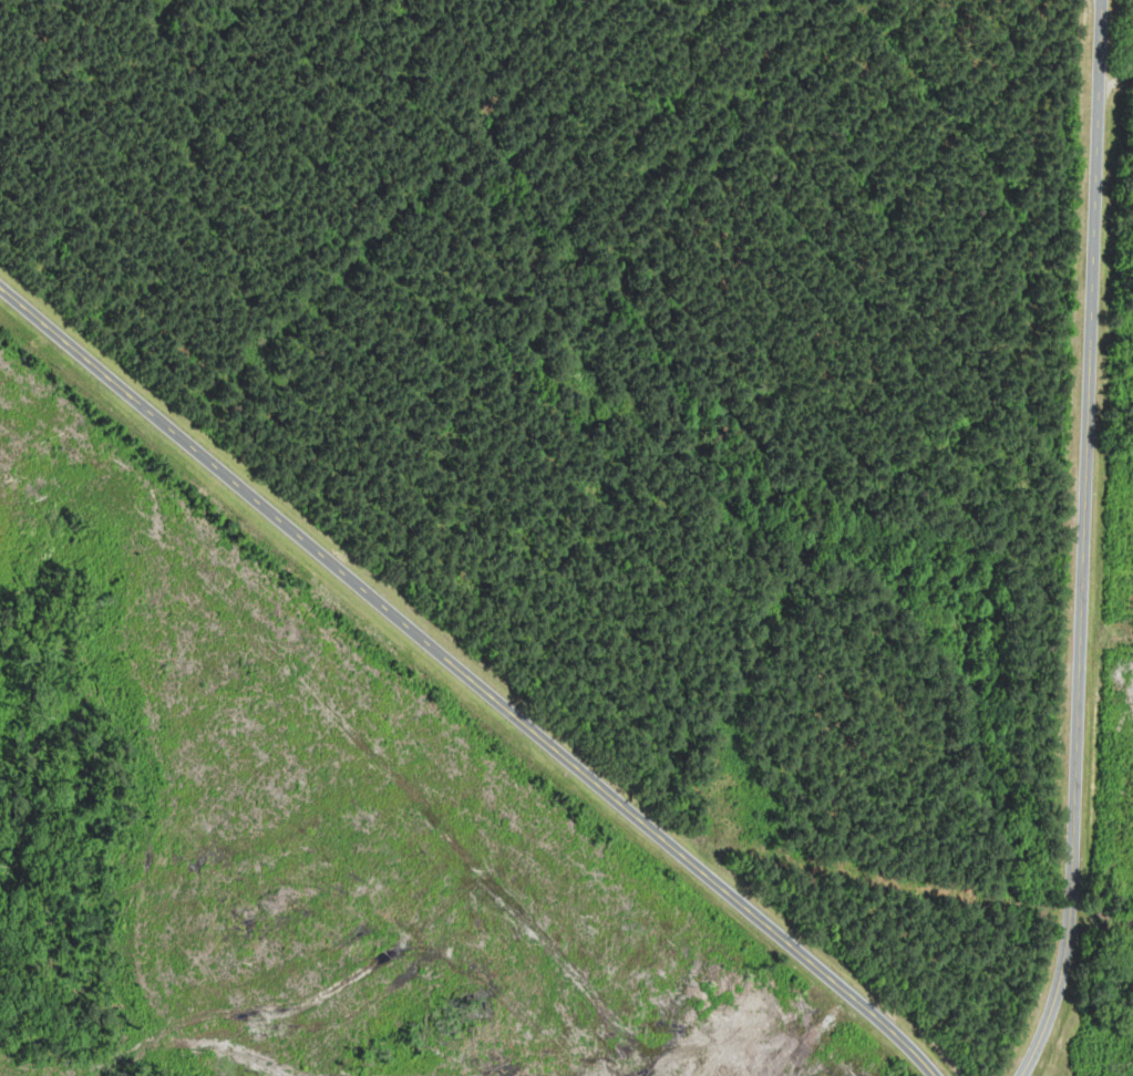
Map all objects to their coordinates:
road: (1083, 541)
road: (470, 679)

